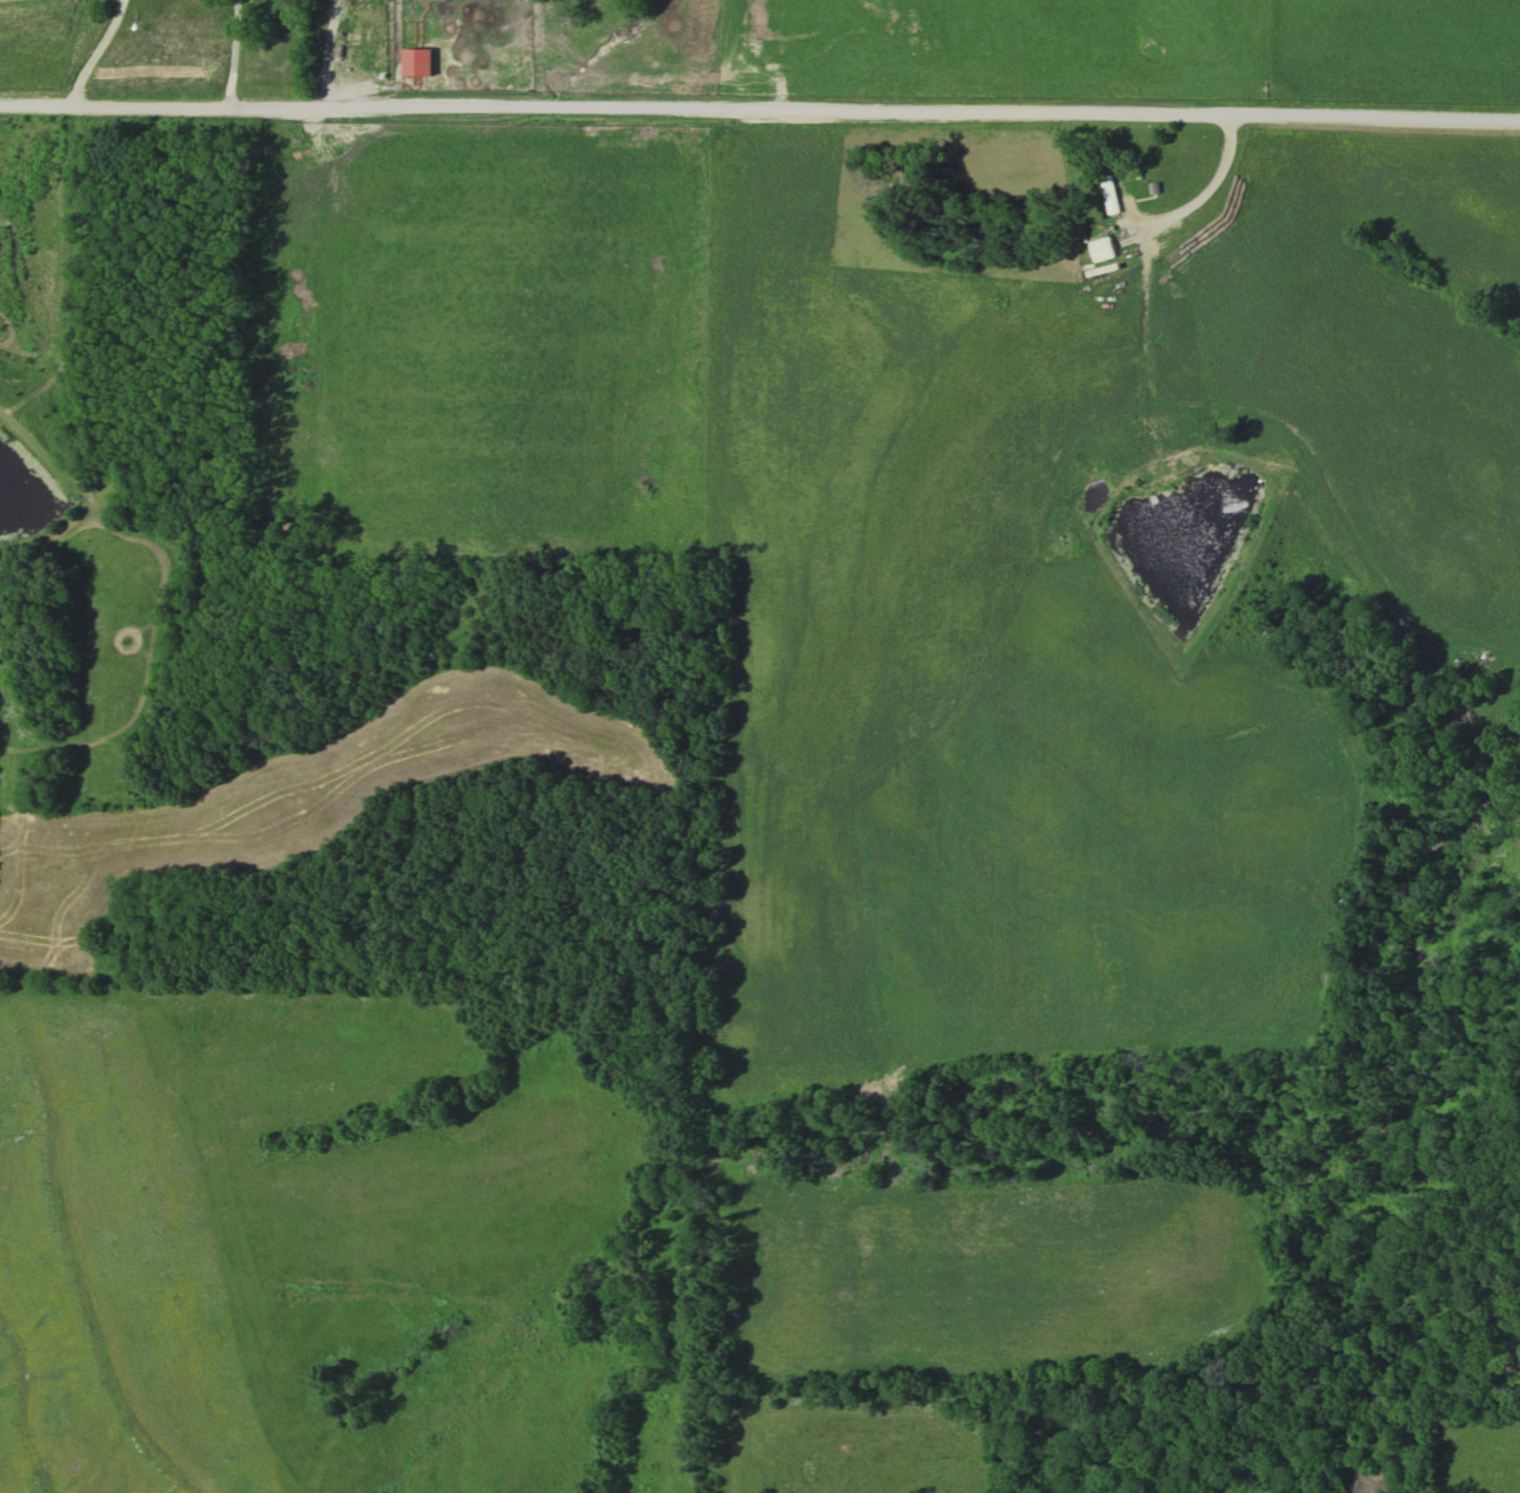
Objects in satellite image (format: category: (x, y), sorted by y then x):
building: (353, 1)
road: (99, 55)
road: (236, 55)
road: (760, 107)
building: (1110, 197)
road: (1207, 199)
building: (1100, 251)

